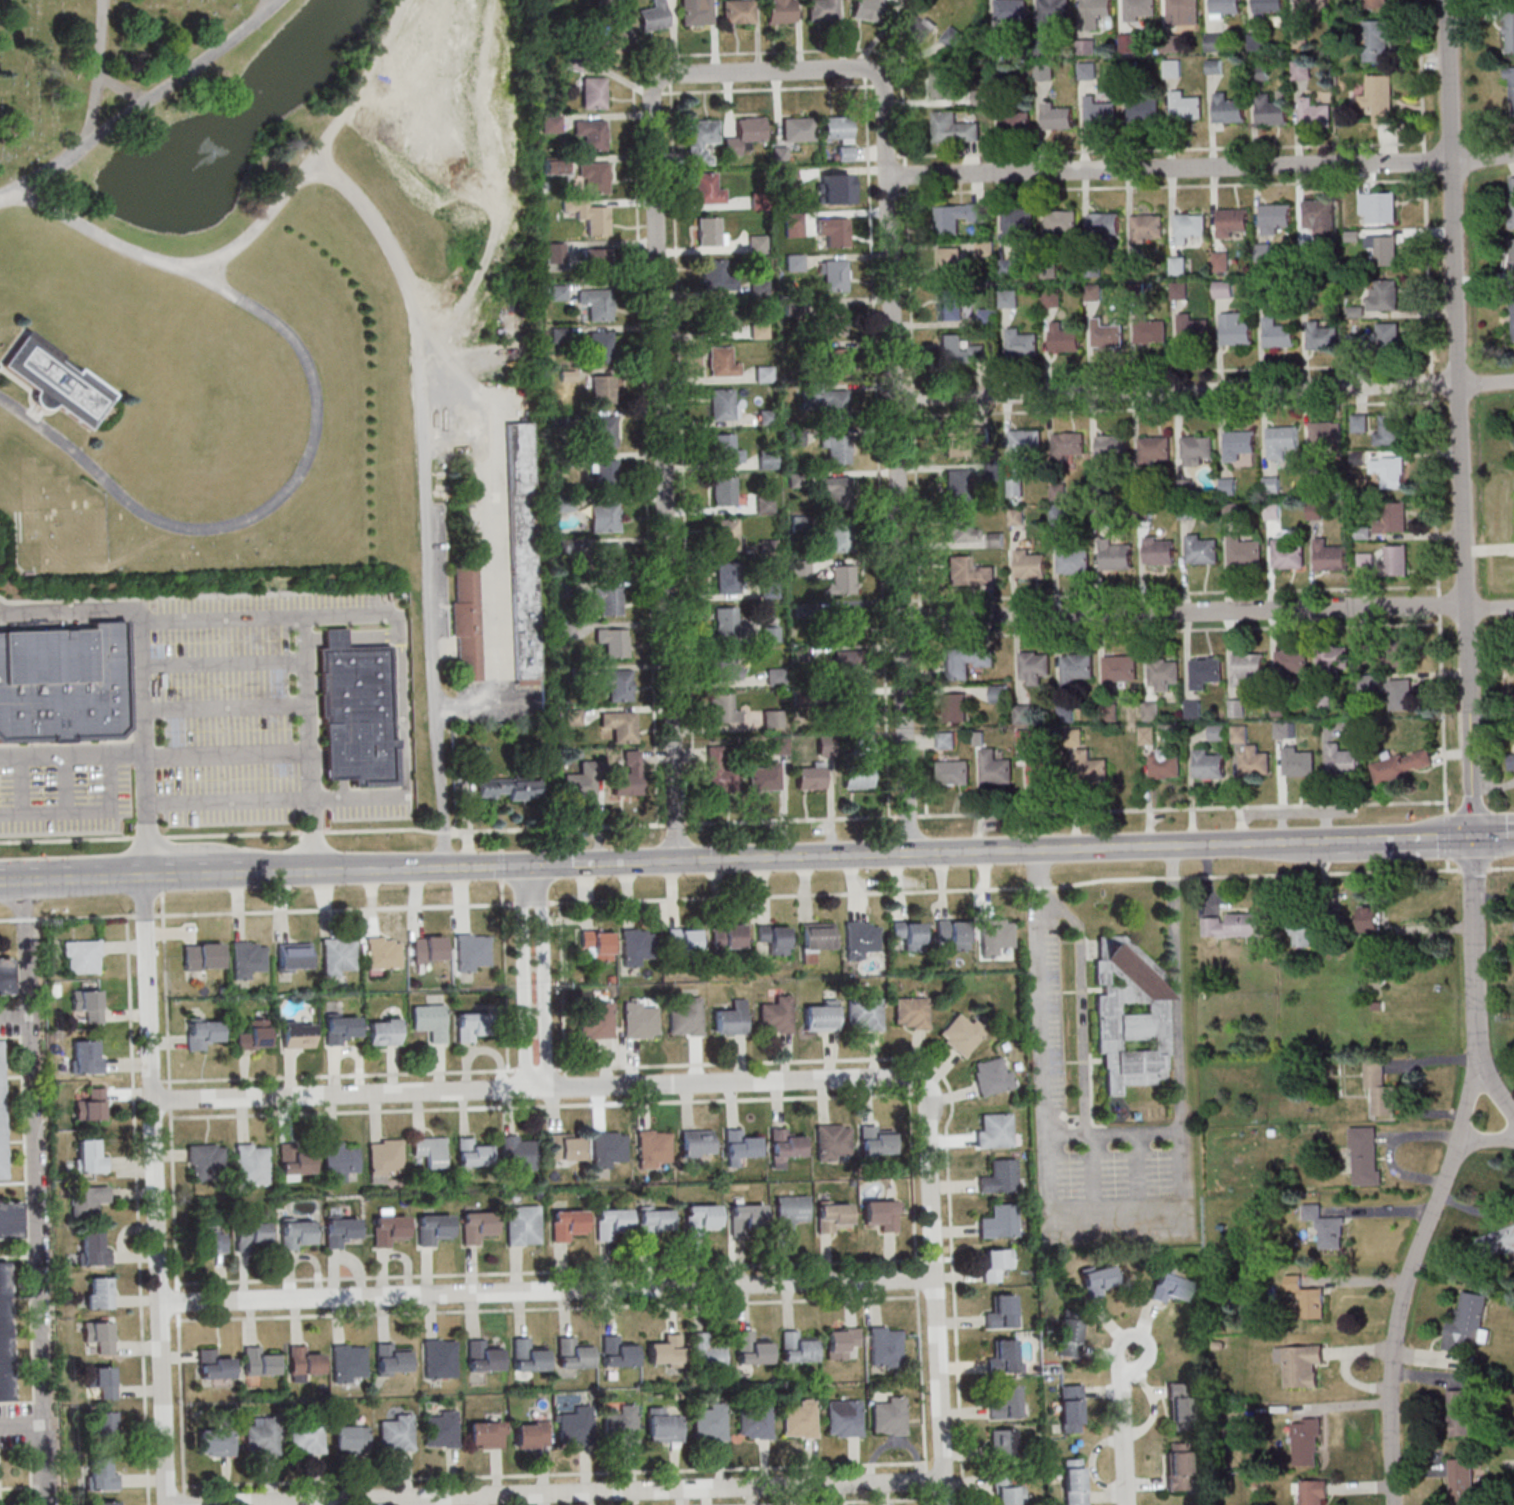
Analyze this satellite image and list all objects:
building: (1375, 4)
building: (1225, 6)
building: (1267, 7)
road: (265, 8)
building: (1140, 9)
building: (823, 10)
building: (868, 10)
building: (1011, 10)
building: (1307, 10)
building: (780, 11)
building: (695, 12)
building: (737, 12)
building: (1183, 12)
building: (1052, 13)
building: (1095, 13)
building: (652, 17)
building: (914, 29)
building: (1508, 30)
building: (952, 37)
building: (1300, 40)
building: (1375, 41)
building: (1213, 43)
building: (1128, 44)
building: (1171, 44)
building: (613, 47)
road: (766, 52)
building: (1214, 67)
building: (1172, 69)
building: (1301, 70)
building: (1087, 71)
building: (1043, 72)
building: (1258, 72)
road: (865, 73)
road: (100, 74)
road: (670, 81)
building: (942, 84)
road: (878, 86)
road: (767, 89)
building: (1510, 91)
road: (124, 92)
road: (656, 93)
building: (592, 94)
building: (981, 98)
building: (1377, 99)
road: (144, 106)
building: (1185, 107)
building: (1142, 108)
building: (1227, 109)
building: (1270, 111)
building: (1099, 113)
building: (1313, 114)
building: (1057, 117)
building: (1013, 121)
building: (835, 129)
building: (953, 129)
building: (797, 130)
building: (590, 135)
building: (744, 135)
building: (700, 141)
road: (1158, 149)
road: (323, 152)
road: (892, 157)
road: (1201, 170)
building: (593, 177)
road: (1165, 188)
building: (839, 189)
building: (706, 190)
building: (1511, 204)
building: (1377, 208)
building: (589, 217)
building: (956, 217)
building: (1274, 218)
building: (1318, 218)
building: (1018, 221)
building: (1104, 224)
building: (1231, 224)
building: (1061, 225)
building: (1147, 228)
building: (1190, 229)
building: (709, 232)
building: (833, 232)
building: (757, 245)
building: (985, 249)
building: (1382, 251)
building: (554, 253)
building: (1512, 261)
building: (597, 263)
building: (794, 263)
building: (949, 264)
building: (1177, 266)
building: (716, 276)
building: (833, 276)
building: (1223, 289)
building: (1179, 290)
building: (1136, 292)
building: (1382, 295)
building: (1008, 299)
building: (596, 304)
building: (950, 305)
building: (988, 318)
building: (1512, 318)
building: (719, 319)
building: (831, 320)
park: (283, 326)
building: (1193, 330)
building: (1235, 330)
building: (1150, 331)
building: (1108, 334)
building: (1278, 334)
building: (1321, 337)
building: (1064, 339)
building: (1388, 339)
building: (1021, 344)
building: (601, 348)
building: (960, 351)
building: (722, 363)
building: (834, 363)
building: (765, 375)
building: (54, 383)
road: (1205, 390)
building: (602, 391)
road: (1431, 401)
building: (826, 402)
building: (722, 405)
road: (896, 408)
road: (1172, 408)
road: (664, 416)
building: (767, 417)
building: (1359, 423)
road: (316, 428)
building: (1390, 429)
building: (601, 432)
building: (1326, 435)
building: (964, 440)
building: (1282, 441)
building: (1026, 444)
building: (1069, 444)
building: (1239, 444)
road: (878, 447)
building: (1112, 447)
building: (1198, 448)
building: (725, 449)
building: (835, 449)
building: (1155, 450)
road: (683, 454)
building: (767, 460)
building: (1389, 471)
building: (605, 474)
building: (796, 480)
building: (957, 486)
building: (1232, 489)
building: (835, 491)
building: (723, 492)
road: (425, 496)
building: (766, 505)
building: (603, 517)
building: (1017, 517)
building: (1060, 517)
building: (1391, 518)
road: (492, 523)
building: (960, 528)
building: (726, 535)
building: (839, 536)
building: (995, 540)
building: (1201, 550)
building: (1158, 551)
building: (522, 552)
building: (1243, 552)
road: (1466, 552)
building: (1287, 554)
building: (1115, 556)
building: (1329, 556)
building: (608, 559)
building: (1072, 560)
building: (1365, 561)
building: (1394, 561)
building: (1030, 564)
building: (968, 572)
building: (728, 577)
building: (841, 579)
road: (1179, 592)
building: (608, 601)
road: (1208, 611)
road: (356, 614)
building: (467, 625)
road: (1180, 629)
road: (309, 658)
road: (143, 672)
building: (63, 685)
road: (405, 706)
parking lot: (224, 710)
building: (355, 716)
road: (72, 756)
road: (363, 798)
parking lot: (66, 801)
road: (1187, 808)
road: (910, 816)
road: (611, 826)
road: (312, 832)
road: (1446, 835)
road: (190, 836)
road: (1495, 837)
traffic signals: (1476, 838)
road: (502, 839)
road: (1192, 846)
road: (793, 857)
road: (610, 862)
road: (502, 864)
traffic signals: (544, 864)
road: (1447, 864)
road: (271, 867)
road: (162, 882)
road: (1032, 886)
road: (1494, 901)
road: (537, 903)
road: (278, 910)
road: (24, 918)
building: (1371, 918)
road: (8, 919)
building: (1232, 924)
building: (955, 933)
building: (1304, 933)
building: (911, 934)
building: (997, 935)
building: (817, 939)
building: (863, 939)
road: (526, 975)
road: (546, 975)
road: (506, 983)
road: (563, 985)
building: (912, 1012)
building: (866, 1013)
building: (1131, 1013)
building: (778, 1015)
building: (822, 1015)
road: (14, 1018)
building: (641, 1020)
building: (430, 1021)
building: (469, 1026)
building: (340, 1028)
building: (202, 1032)
building: (380, 1032)
building: (963, 1033)
building: (297, 1034)
building: (254, 1035)
building: (86, 1056)
road: (537, 1069)
road: (335, 1074)
building: (993, 1075)
road: (1405, 1080)
road: (531, 1087)
building: (1380, 1087)
road: (1492, 1090)
road: (952, 1092)
building: (90, 1105)
road: (540, 1105)
building: (995, 1130)
road: (1112, 1134)
building: (0, 1136)
road: (1481, 1138)
building: (876, 1140)
building: (697, 1142)
building: (835, 1142)
building: (740, 1145)
building: (565, 1146)
building: (785, 1146)
building: (654, 1147)
building: (609, 1148)
building: (430, 1151)
building: (472, 1152)
building: (518, 1152)
building: (1366, 1155)
building: (90, 1156)
building: (384, 1158)
building: (338, 1160)
building: (205, 1162)
building: (252, 1163)
building: (295, 1163)
building: (1000, 1176)
road: (156, 1187)
road: (34, 1189)
building: (87, 1199)
road: (174, 1199)
road: (138, 1209)
road: (1379, 1211)
building: (792, 1212)
building: (883, 1214)
building: (835, 1216)
building: (749, 1218)
building: (702, 1219)
building: (9, 1220)
building: (1001, 1221)
building: (613, 1223)
building: (656, 1223)
building: (567, 1224)
building: (523, 1225)
building: (477, 1226)
building: (1325, 1226)
building: (338, 1228)
building: (432, 1228)
building: (296, 1233)
building: (251, 1235)
building: (208, 1238)
building: (1497, 1243)
building: (94, 1249)
building: (997, 1263)
building: (1097, 1279)
building: (1169, 1286)
road: (938, 1287)
road: (549, 1288)
road: (919, 1291)
building: (99, 1292)
building: (1308, 1297)
road: (1403, 1300)
building: (1003, 1311)
building: (1468, 1322)
building: (96, 1331)
building: (4, 1334)
road: (1137, 1334)
building: (1070, 1337)
building: (843, 1341)
building: (887, 1345)
building: (798, 1347)
building: (754, 1348)
building: (667, 1350)
building: (619, 1351)
building: (573, 1352)
building: (708, 1352)
building: (483, 1355)
building: (529, 1355)
building: (439, 1357)
building: (392, 1358)
building: (1006, 1358)
building: (259, 1361)
building: (304, 1361)
building: (348, 1362)
building: (1300, 1363)
building: (214, 1364)
building: (101, 1380)
building: (1006, 1402)
building: (1180, 1406)
building: (1071, 1407)
building: (1462, 1412)
building: (890, 1415)
building: (846, 1417)
building: (802, 1419)
building: (756, 1420)
building: (104, 1421)
building: (711, 1422)
road: (20, 1423)
building: (622, 1424)
building: (577, 1425)
building: (665, 1425)
building: (442, 1429)
building: (397, 1432)
building: (485, 1434)
building: (531, 1434)
building: (262, 1435)
building: (306, 1438)
building: (351, 1438)
building: (1307, 1441)
building: (216, 1442)
road: (1128, 1442)
building: (1004, 1444)
building: (1179, 1467)
building: (101, 1474)
building: (1075, 1481)
building: (1463, 1481)
road: (558, 1492)
building: (1010, 1492)
building: (1314, 1492)
building: (105, 1502)

